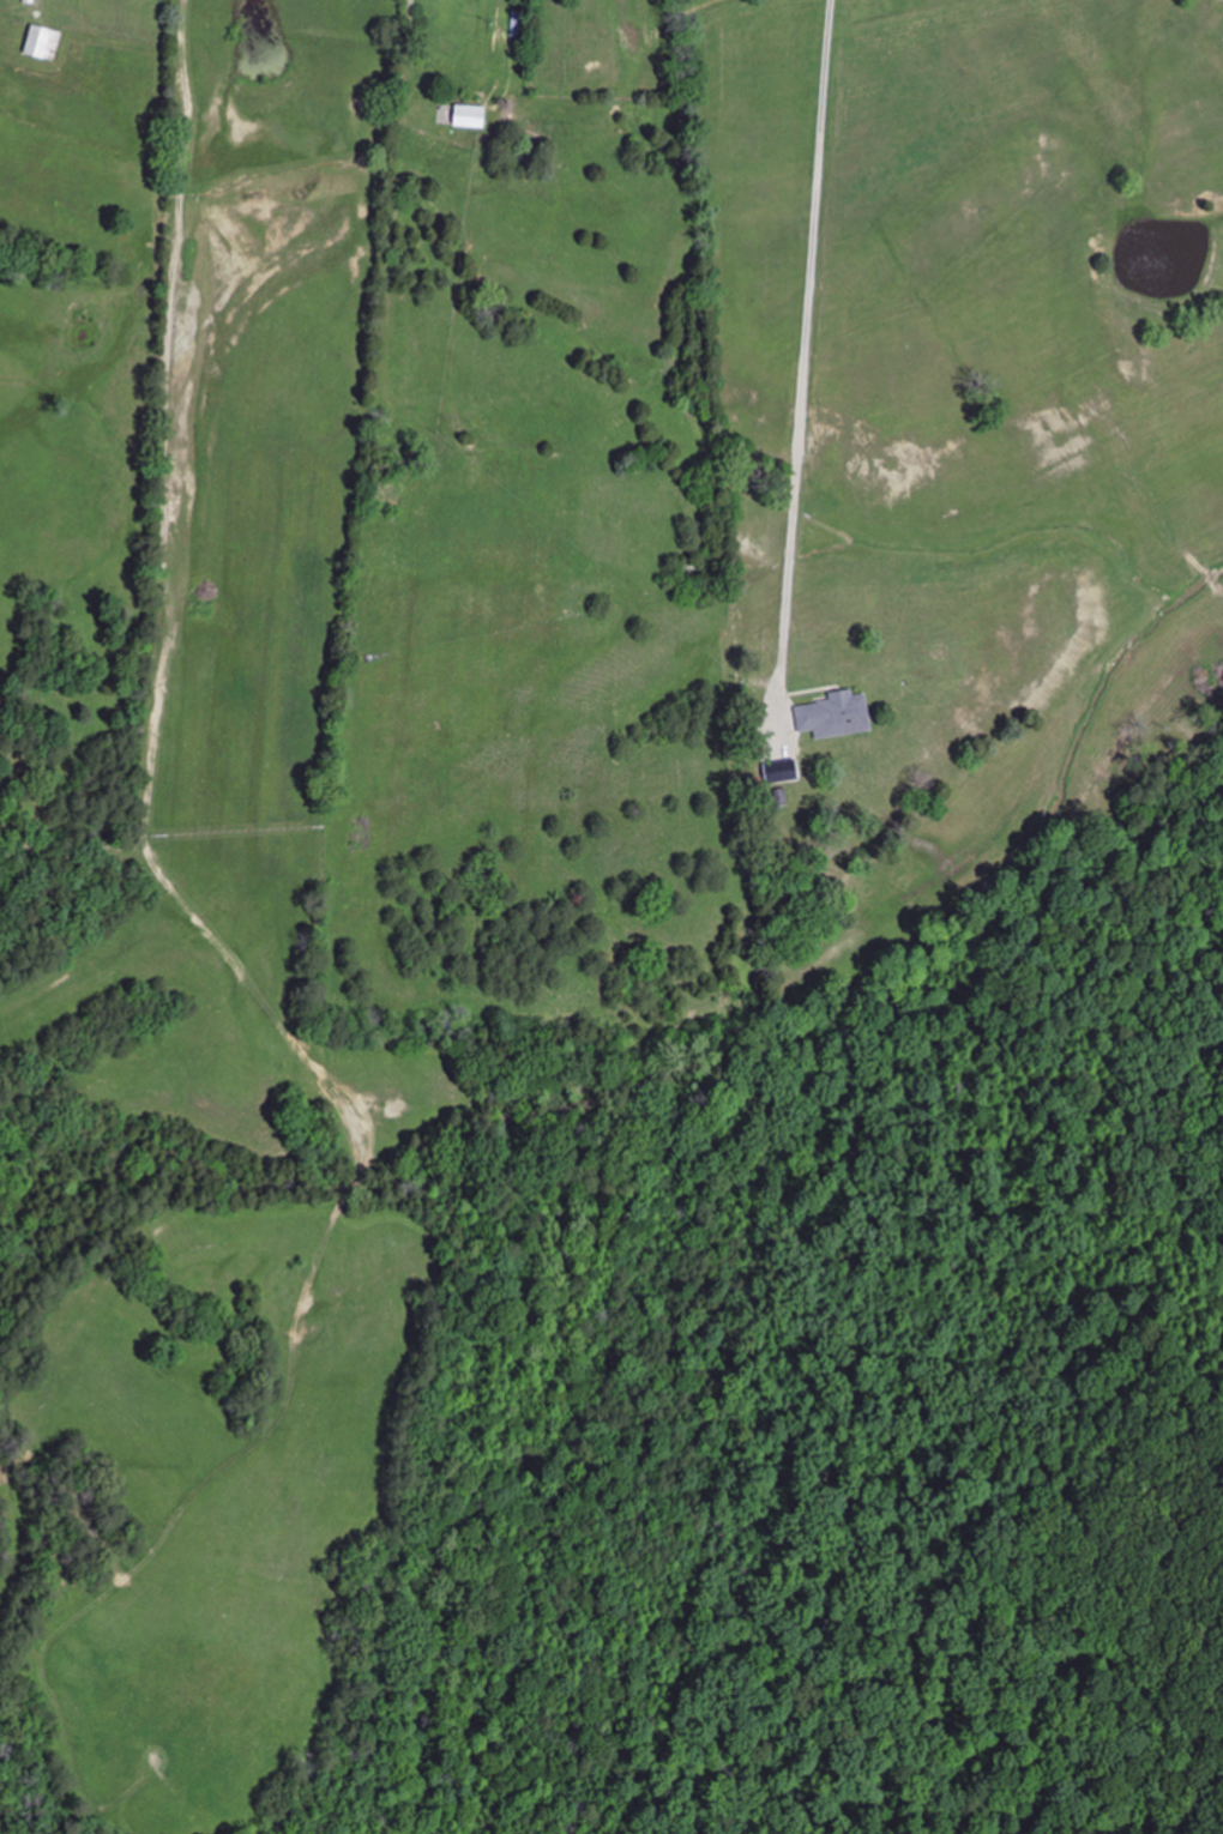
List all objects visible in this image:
building: (47, 42)
building: (474, 116)
road: (171, 304)
road: (799, 351)
building: (837, 714)

